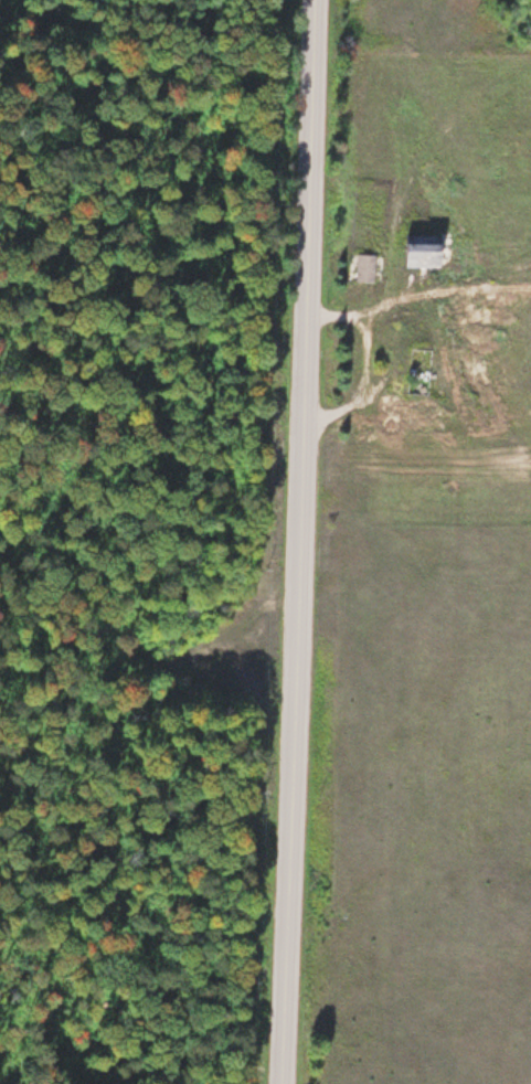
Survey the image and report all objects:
building: (420, 249)
building: (367, 268)
building: (410, 405)
road: (306, 542)

